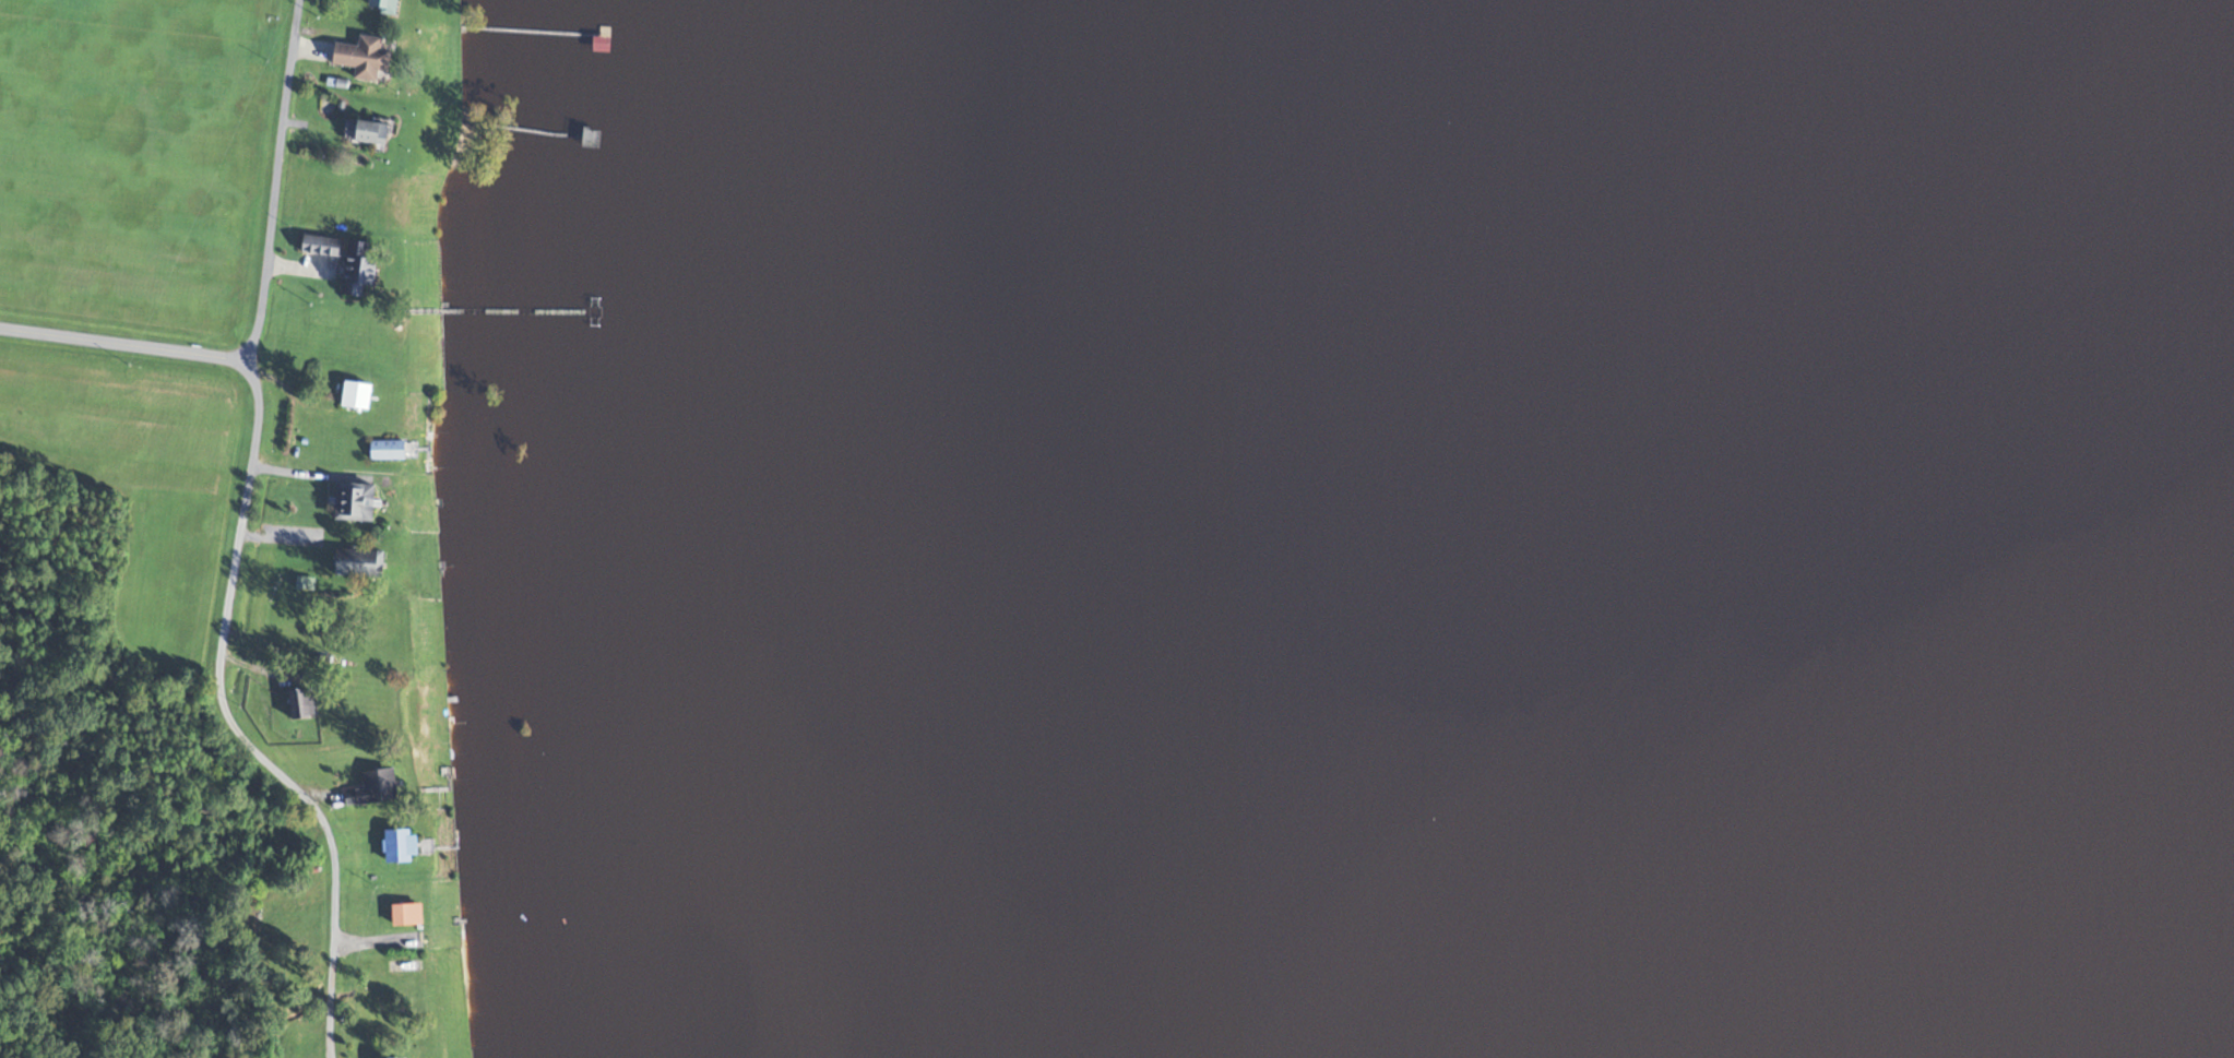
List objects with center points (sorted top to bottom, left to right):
building: (381, 5)
building: (360, 58)
building: (364, 132)
road: (274, 181)
building: (319, 243)
building: (355, 265)
building: (354, 394)
building: (384, 449)
building: (352, 500)
building: (356, 561)
road: (227, 604)
building: (298, 702)
building: (371, 787)
building: (396, 845)
building: (404, 913)

